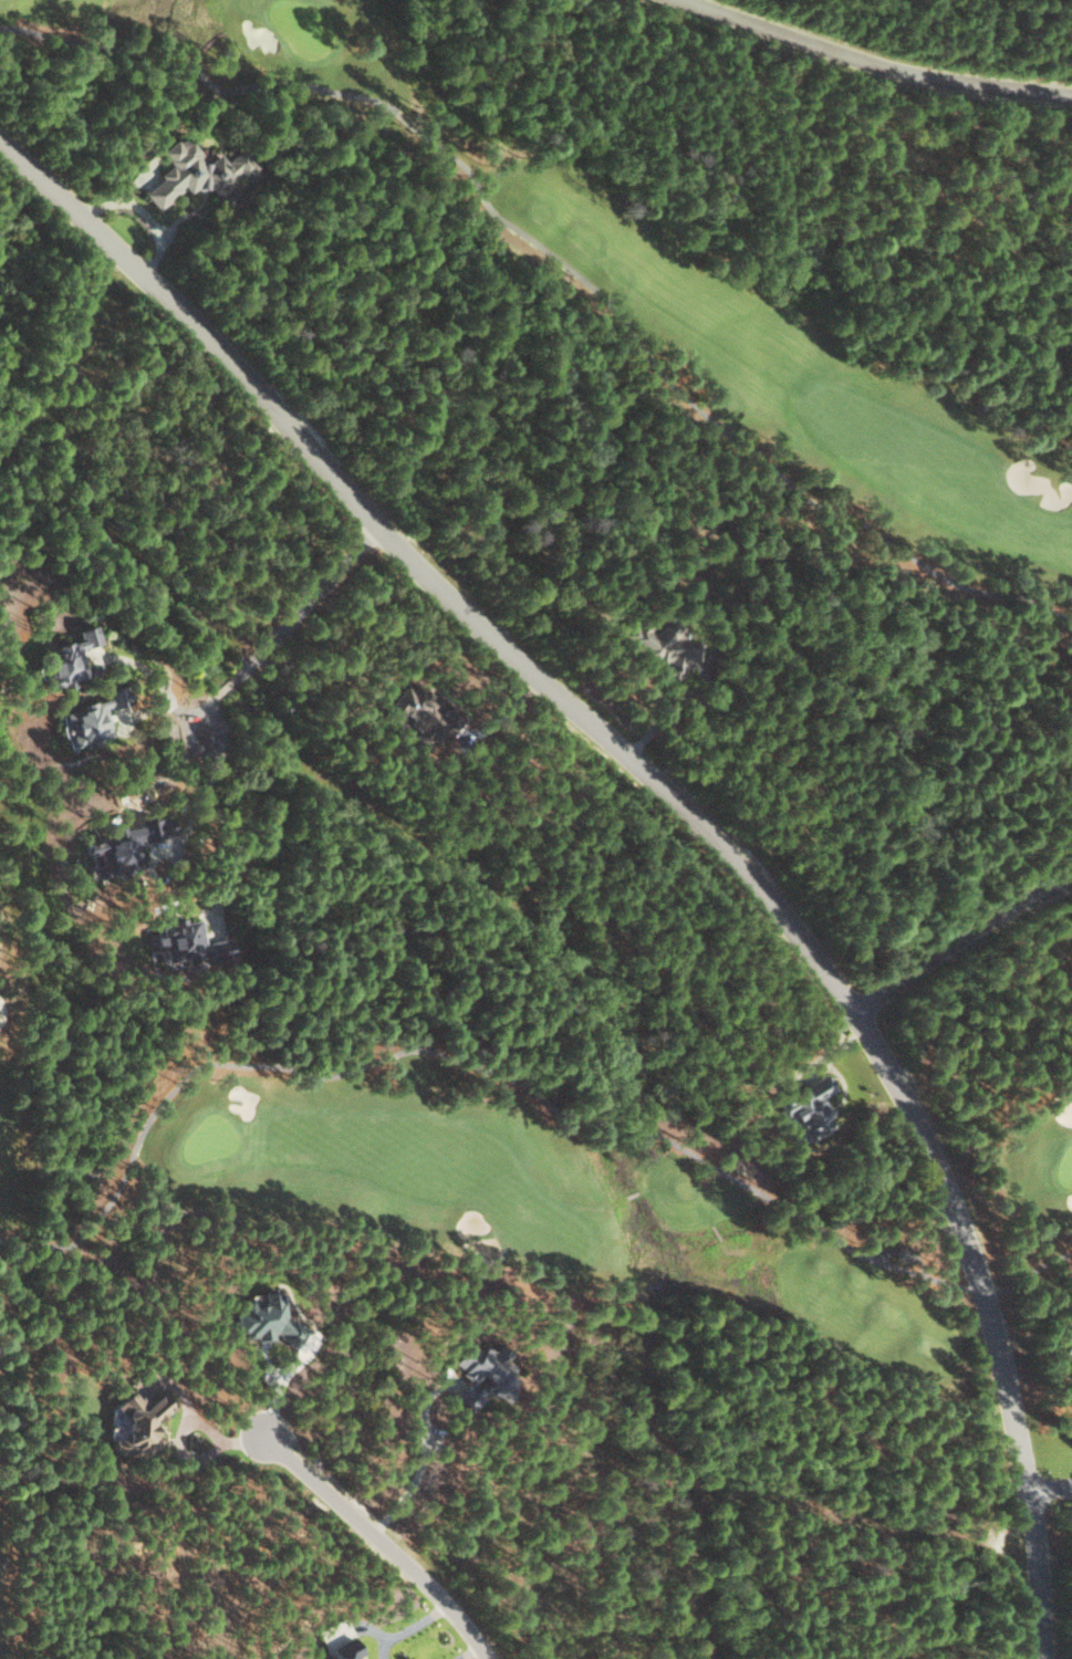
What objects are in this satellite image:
road: (872, 63)
building: (199, 175)
park: (622, 273)
road: (308, 602)
building: (660, 646)
building: (65, 659)
road: (225, 688)
road: (202, 709)
building: (423, 716)
building: (92, 719)
road: (685, 805)
building: (121, 851)
building: (179, 940)
road: (958, 942)
building: (219, 950)
building: (810, 1109)
park: (455, 1170)
building: (266, 1318)
building: (1065, 1342)
building: (481, 1374)
building: (137, 1423)
road: (1053, 1488)
road: (387, 1540)
park: (10, 1557)
building: (346, 1649)

